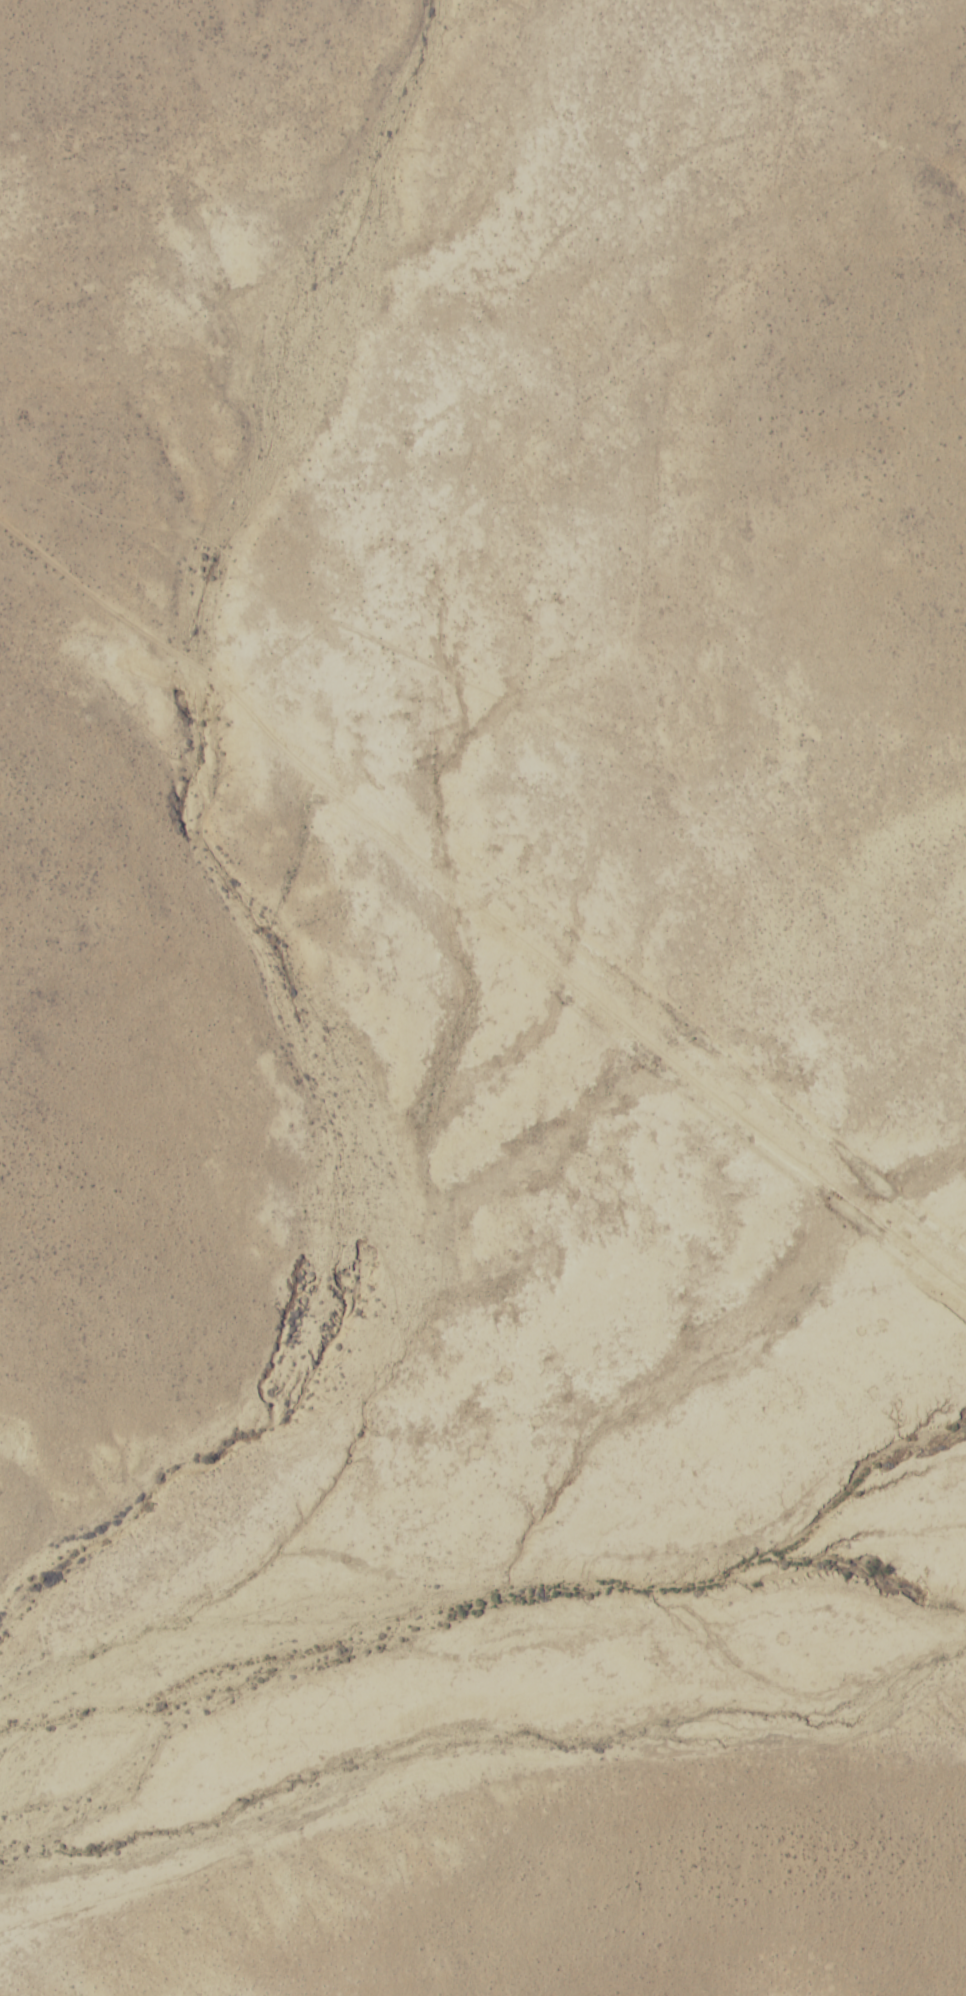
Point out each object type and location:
road: (510, 250)
road: (78, 536)
road: (523, 731)

